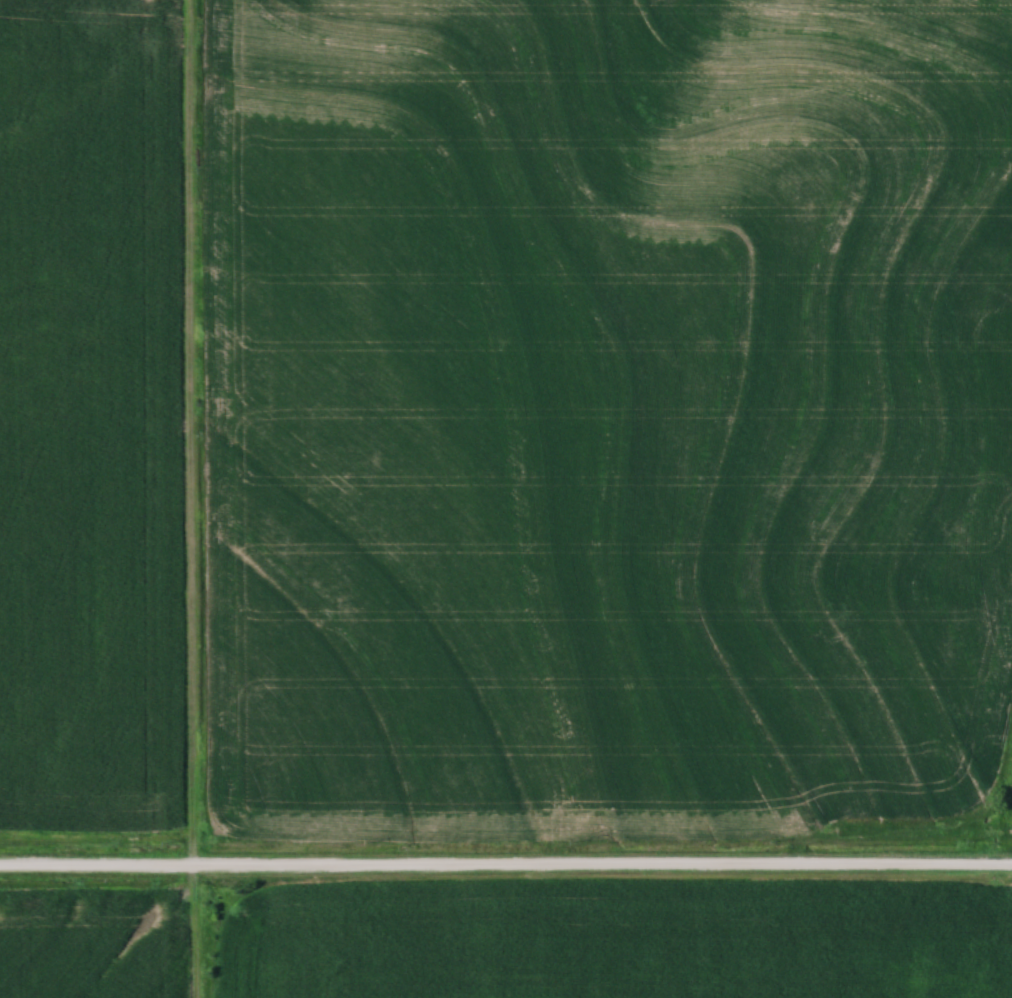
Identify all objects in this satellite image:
road: (506, 866)

